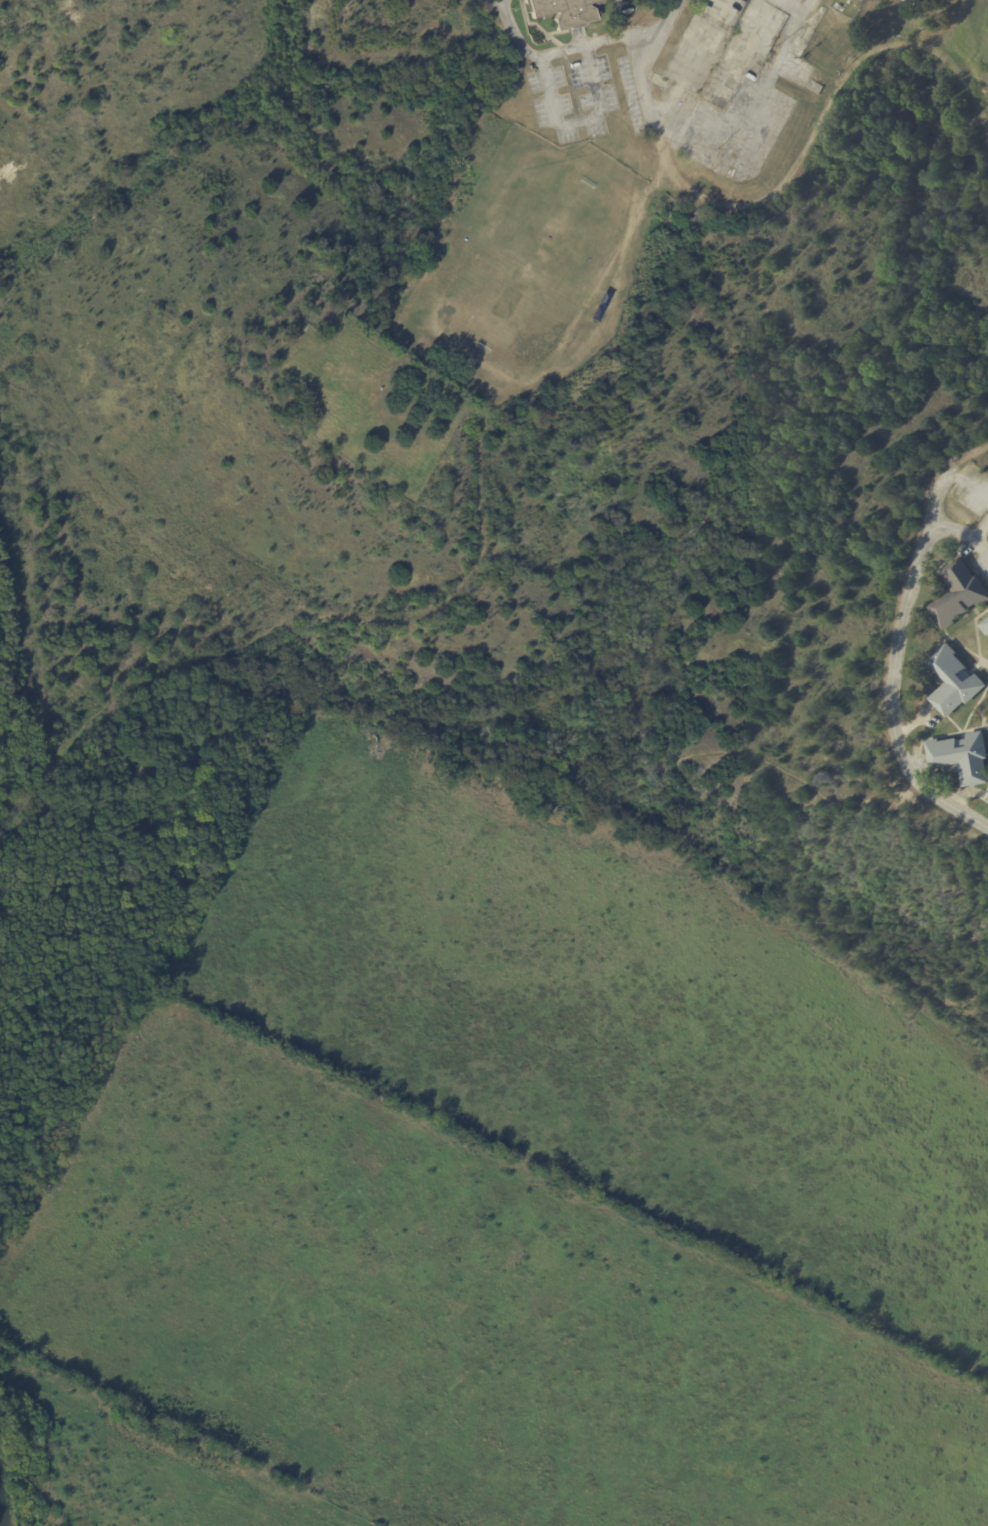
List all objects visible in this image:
building: (910, 3)
road: (789, 7)
building: (564, 11)
road: (658, 35)
road: (564, 48)
road: (773, 67)
road: (577, 121)
park: (373, 399)
road: (963, 532)
building: (958, 593)
building: (984, 626)
road: (900, 643)
building: (953, 681)
building: (961, 757)
park: (71, 1001)
park: (504, 1190)

